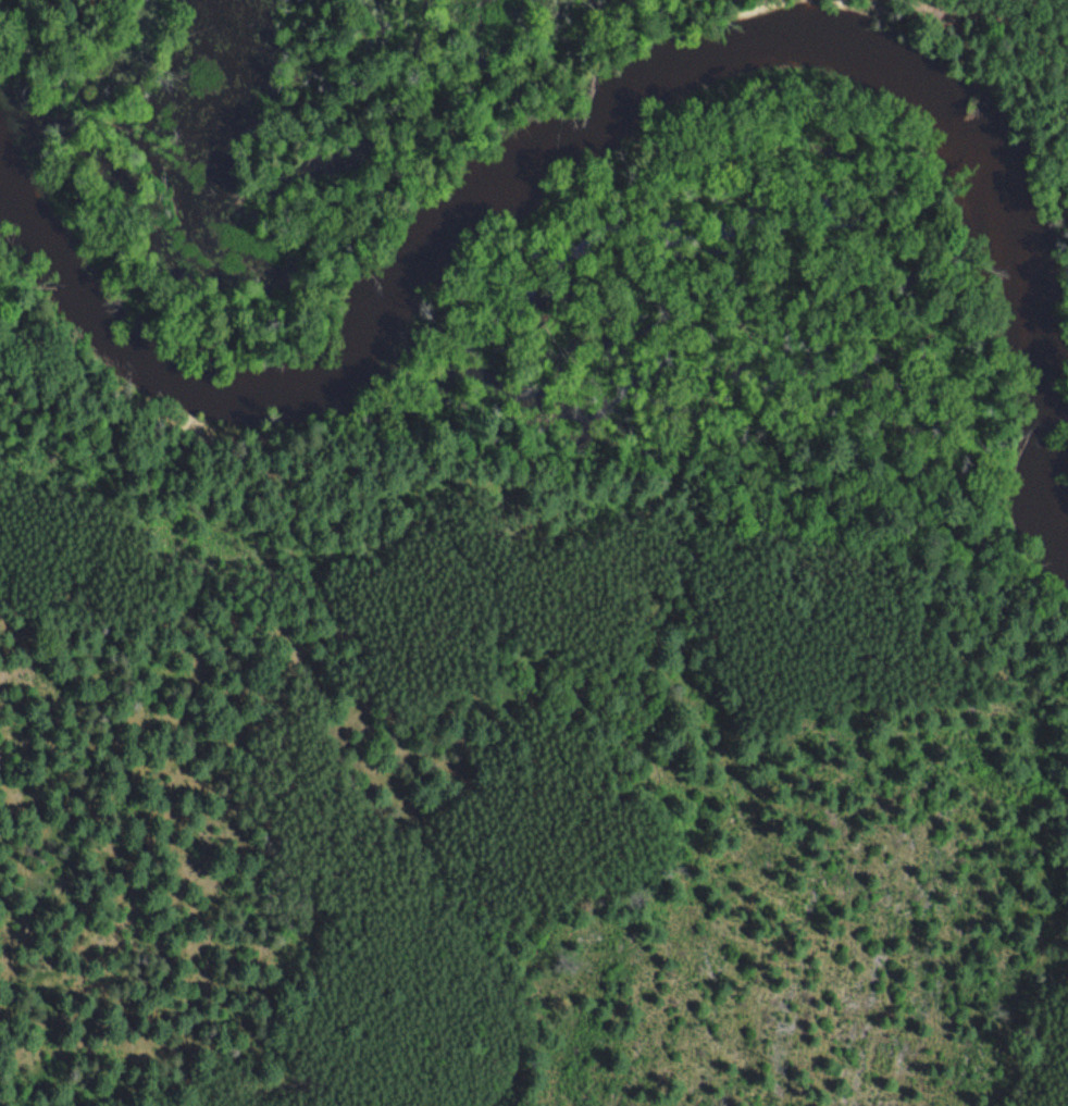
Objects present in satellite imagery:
river: (617, 121)

